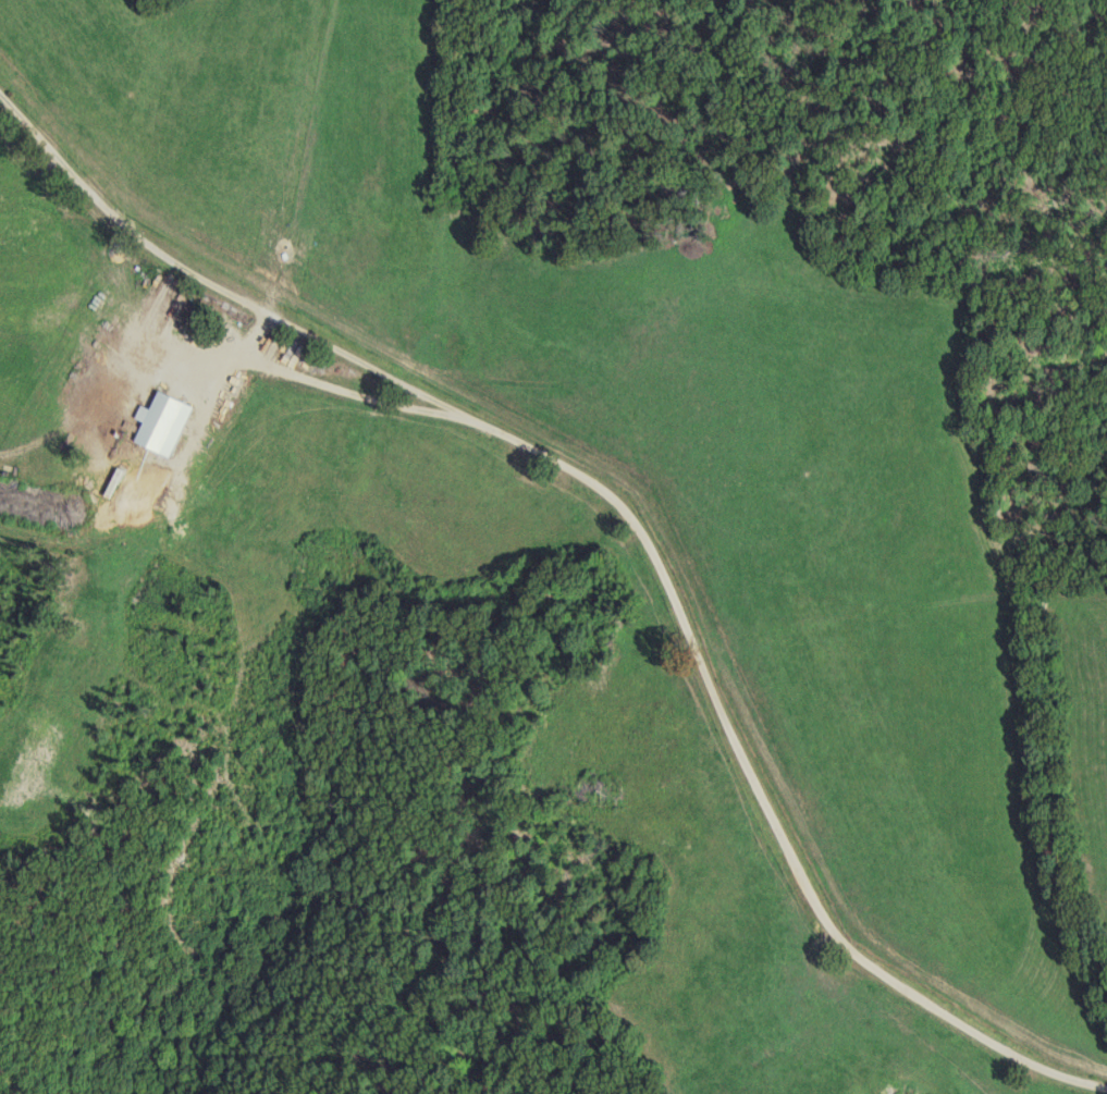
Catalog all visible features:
building: (165, 422)
road: (637, 526)

